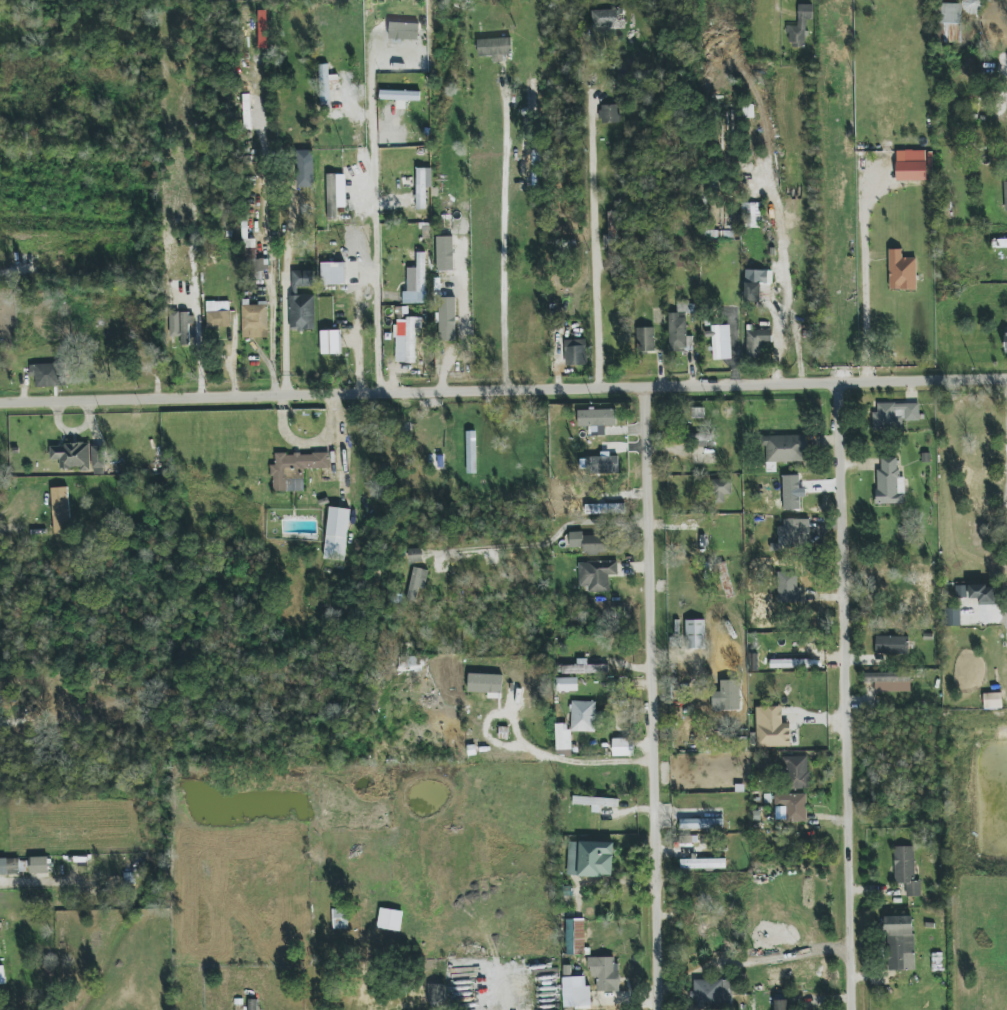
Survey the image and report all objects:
road: (776, 2)
building: (973, 6)
building: (951, 13)
building: (608, 19)
building: (800, 27)
building: (403, 31)
building: (951, 32)
building: (494, 48)
building: (325, 84)
building: (532, 94)
building: (400, 96)
building: (609, 114)
building: (911, 165)
building: (304, 168)
building: (421, 188)
building: (335, 194)
building: (1005, 195)
road: (160, 206)
road: (376, 222)
building: (612, 231)
road: (503, 232)
road: (594, 238)
building: (999, 243)
building: (445, 253)
building: (901, 271)
road: (6, 273)
building: (333, 273)
road: (865, 276)
building: (303, 278)
building: (416, 282)
building: (754, 284)
building: (302, 312)
building: (218, 314)
building: (447, 319)
building: (254, 321)
building: (181, 326)
road: (463, 329)
road: (286, 336)
building: (406, 339)
building: (645, 339)
building: (757, 341)
building: (1005, 341)
building: (331, 342)
building: (721, 342)
building: (575, 352)
building: (46, 374)
road: (503, 389)
building: (698, 413)
building: (894, 415)
building: (597, 420)
building: (699, 440)
building: (784, 448)
building: (471, 452)
building: (71, 455)
building: (98, 457)
building: (295, 469)
building: (889, 482)
building: (721, 489)
building: (604, 508)
building: (60, 510)
road: (9, 531)
building: (795, 533)
building: (336, 534)
building: (590, 543)
building: (415, 555)
building: (597, 575)
building: (417, 582)
building: (787, 587)
building: (983, 594)
building: (953, 617)
building: (695, 634)
building: (892, 645)
building: (727, 656)
building: (789, 663)
building: (412, 665)
building: (584, 668)
building: (887, 677)
building: (485, 683)
building: (723, 683)
building: (566, 684)
building: (521, 687)
road: (851, 695)
road: (656, 697)
building: (992, 700)
building: (583, 716)
building: (771, 727)
building: (563, 739)
building: (623, 747)
road: (570, 761)
building: (795, 772)
building: (595, 802)
building: (794, 807)
building: (701, 824)
building: (590, 859)
building: (702, 863)
building: (39, 865)
building: (9, 866)
building: (906, 870)
road: (28, 882)
building: (340, 919)
building: (390, 919)
building: (575, 936)
building: (900, 943)
road: (800, 951)
building: (604, 972)
building: (2, 975)
building: (575, 992)
building: (436, 994)
building: (712, 994)
building: (252, 1004)
building: (783, 1004)

